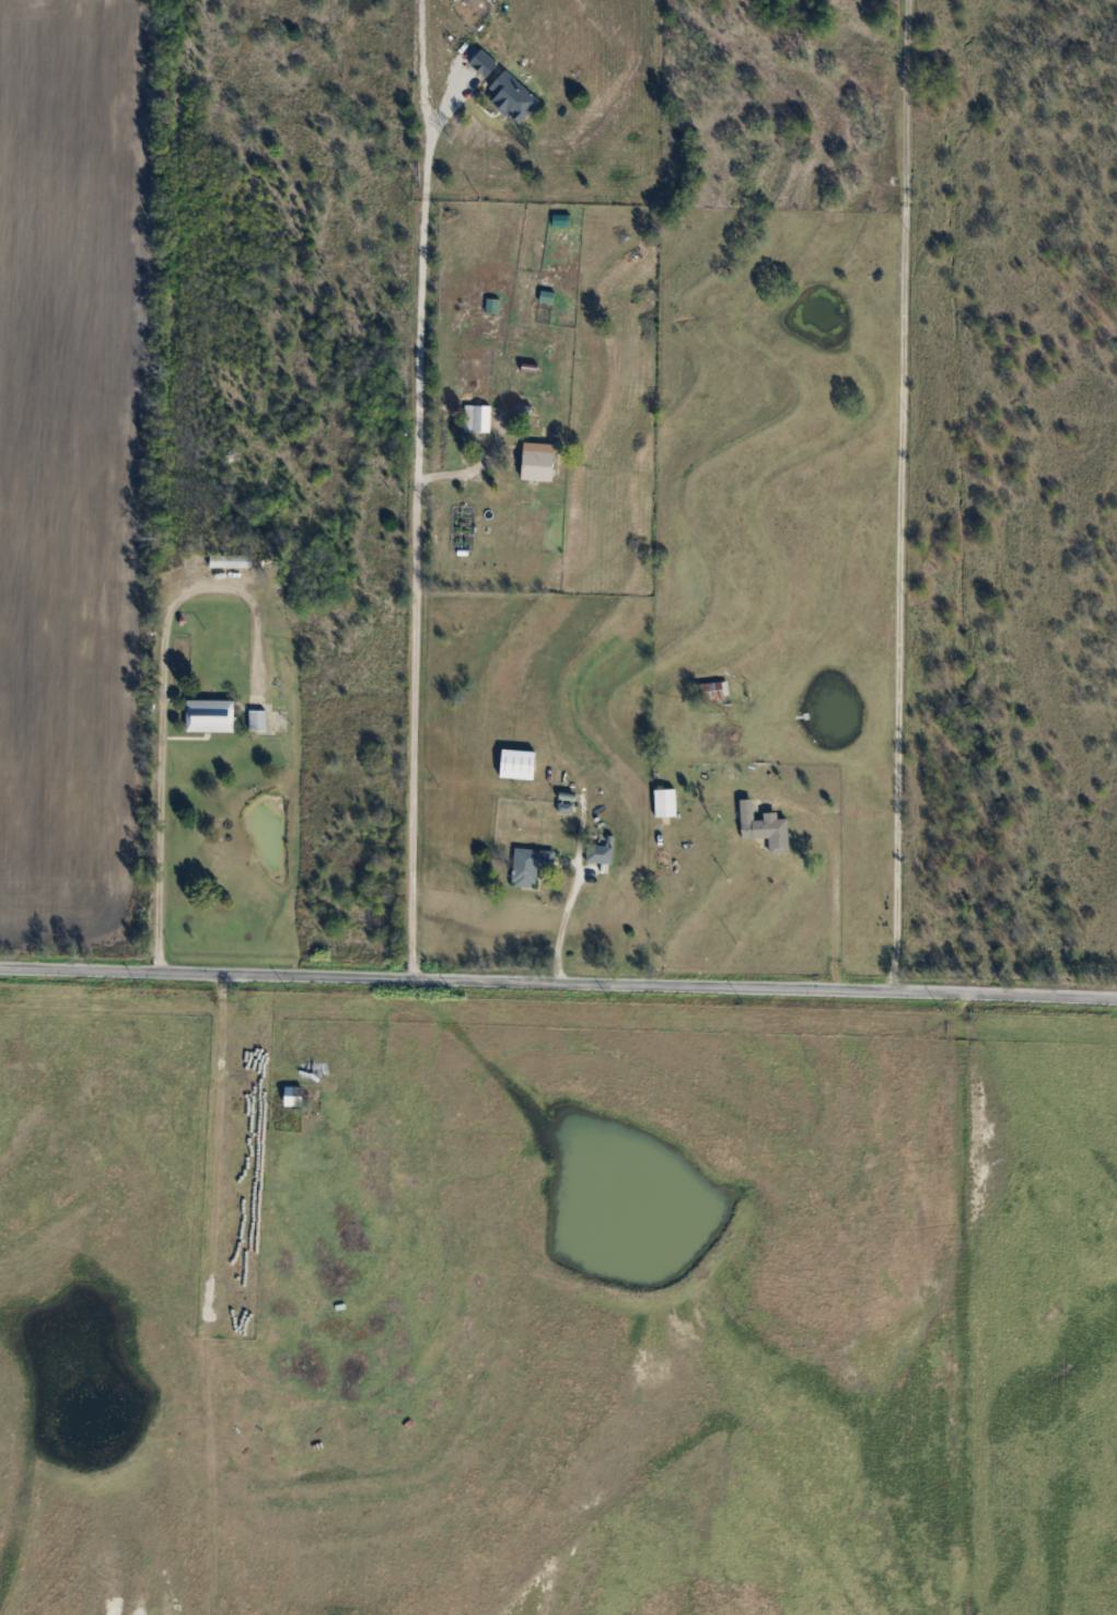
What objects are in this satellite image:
building: (475, 418)
building: (535, 462)
road: (904, 498)
road: (421, 525)
building: (711, 690)
road: (160, 700)
building: (207, 716)
building: (255, 721)
building: (662, 803)
building: (761, 829)
building: (597, 855)
building: (527, 865)
road: (837, 879)
road: (563, 922)
road: (558, 986)
building: (300, 1095)

